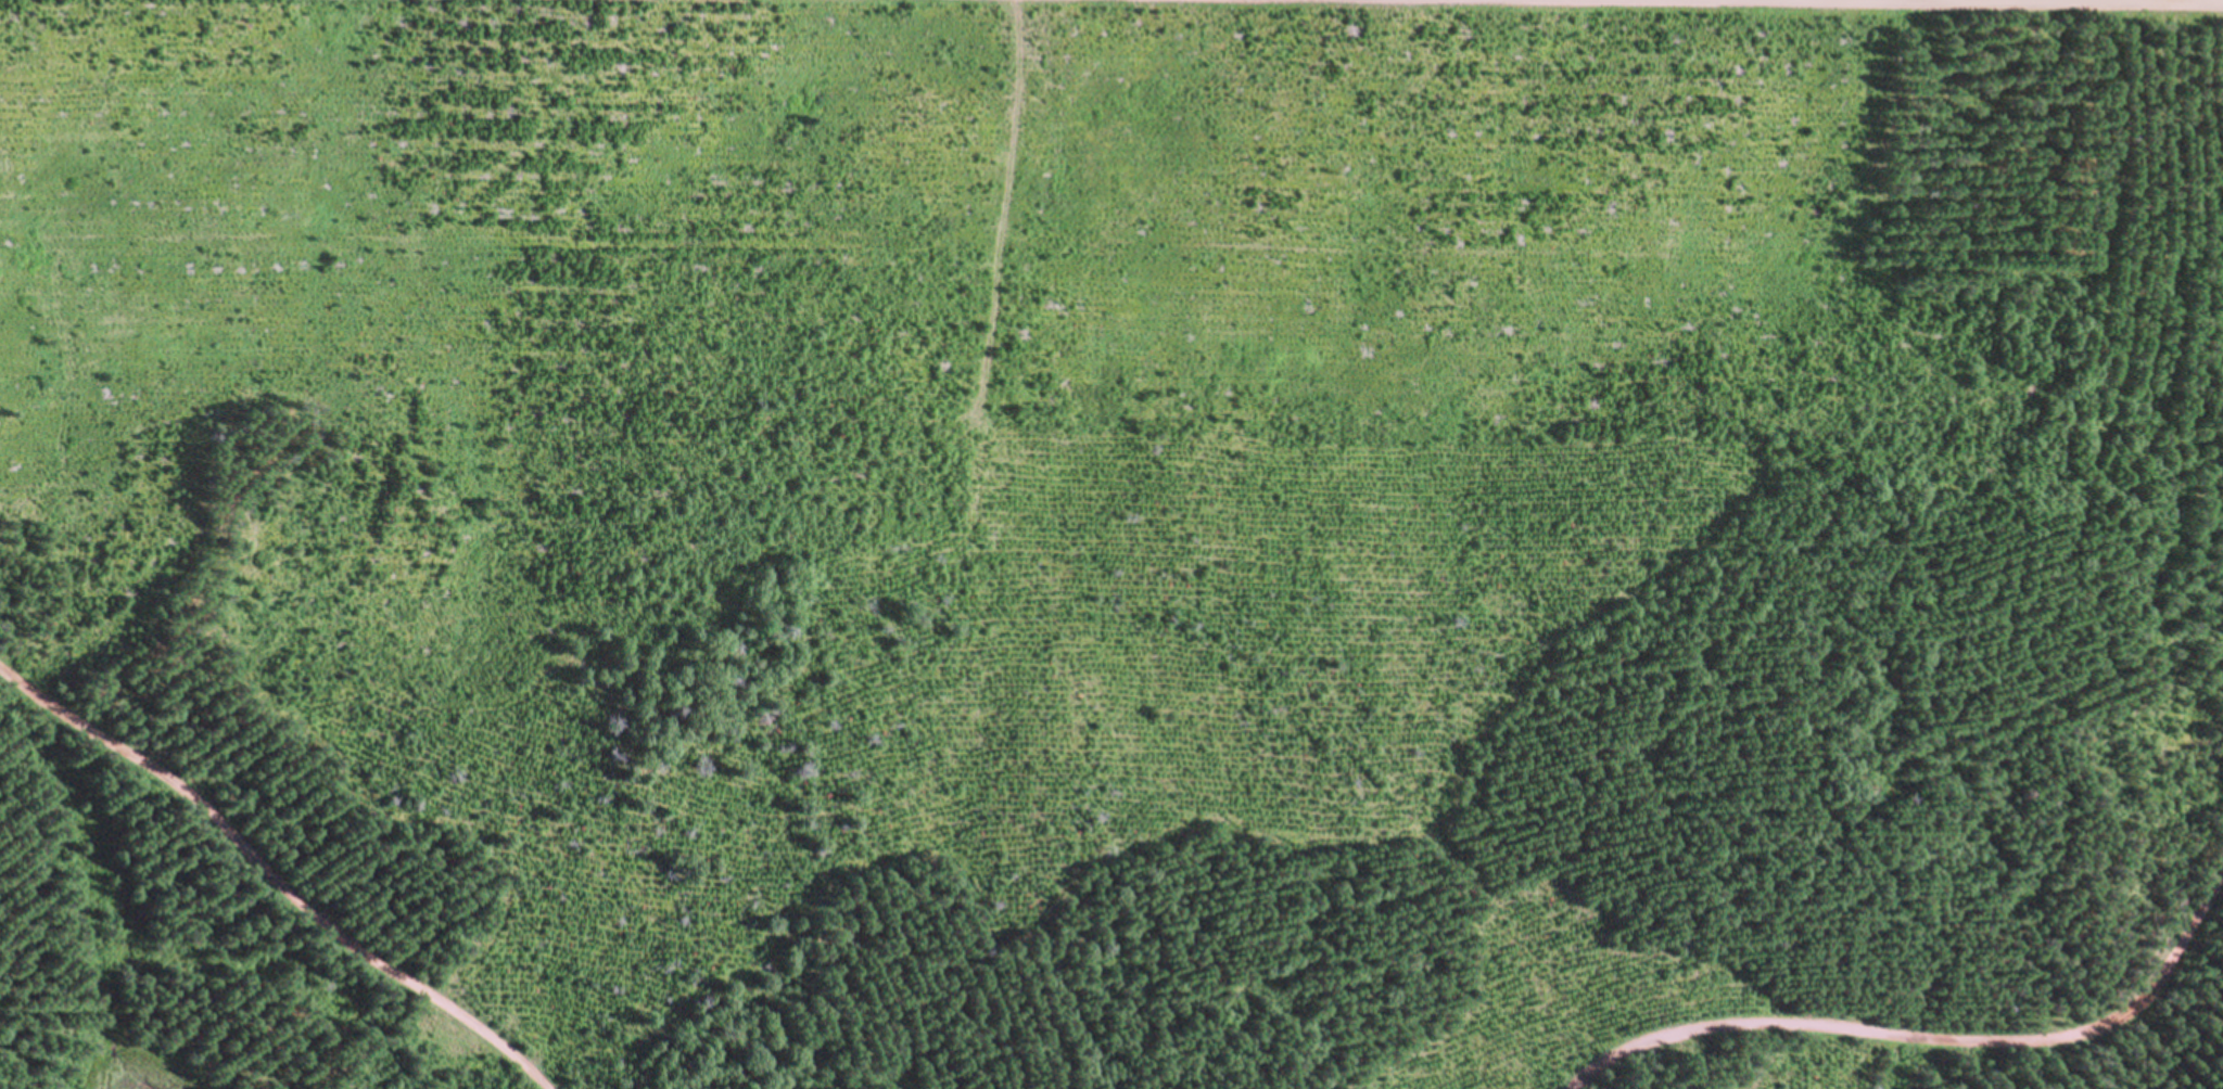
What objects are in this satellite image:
road: (2067, 0)
road: (288, 869)

